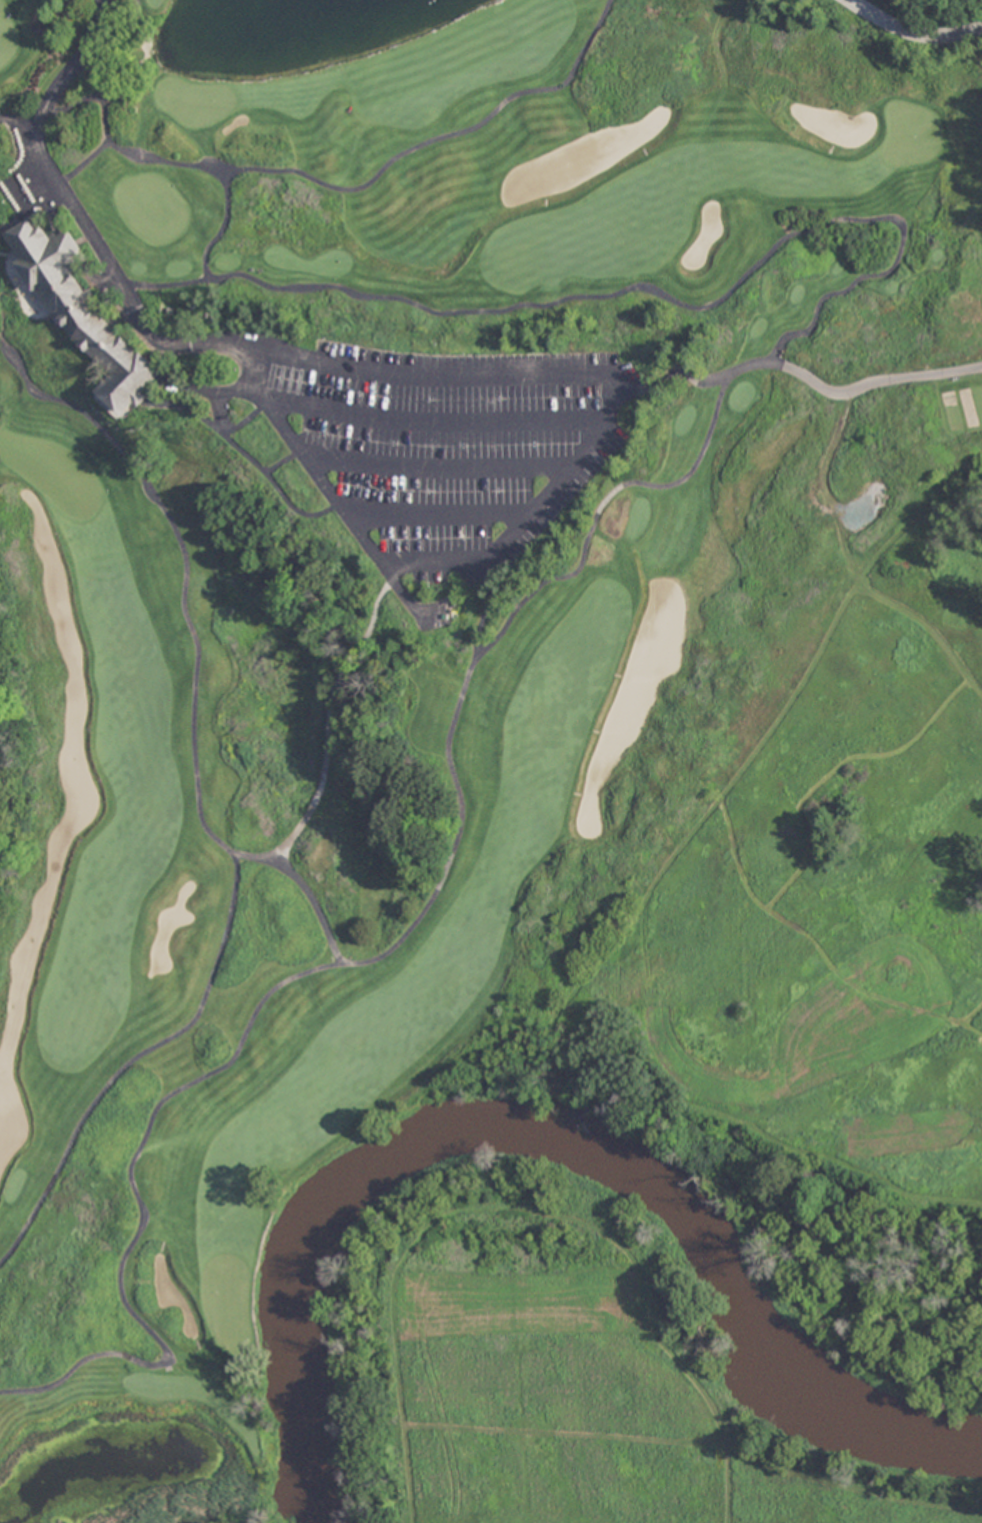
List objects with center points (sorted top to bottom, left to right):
road: (913, 32)
park: (7, 36)
park: (192, 101)
park: (909, 133)
road: (81, 161)
road: (357, 189)
park: (151, 207)
road: (76, 219)
building: (83, 311)
road: (438, 423)
parking lot: (447, 446)
road: (584, 452)
road: (441, 468)
park: (53, 473)
road: (439, 515)
park: (491, 761)
river: (543, 1156)
park: (228, 1302)

